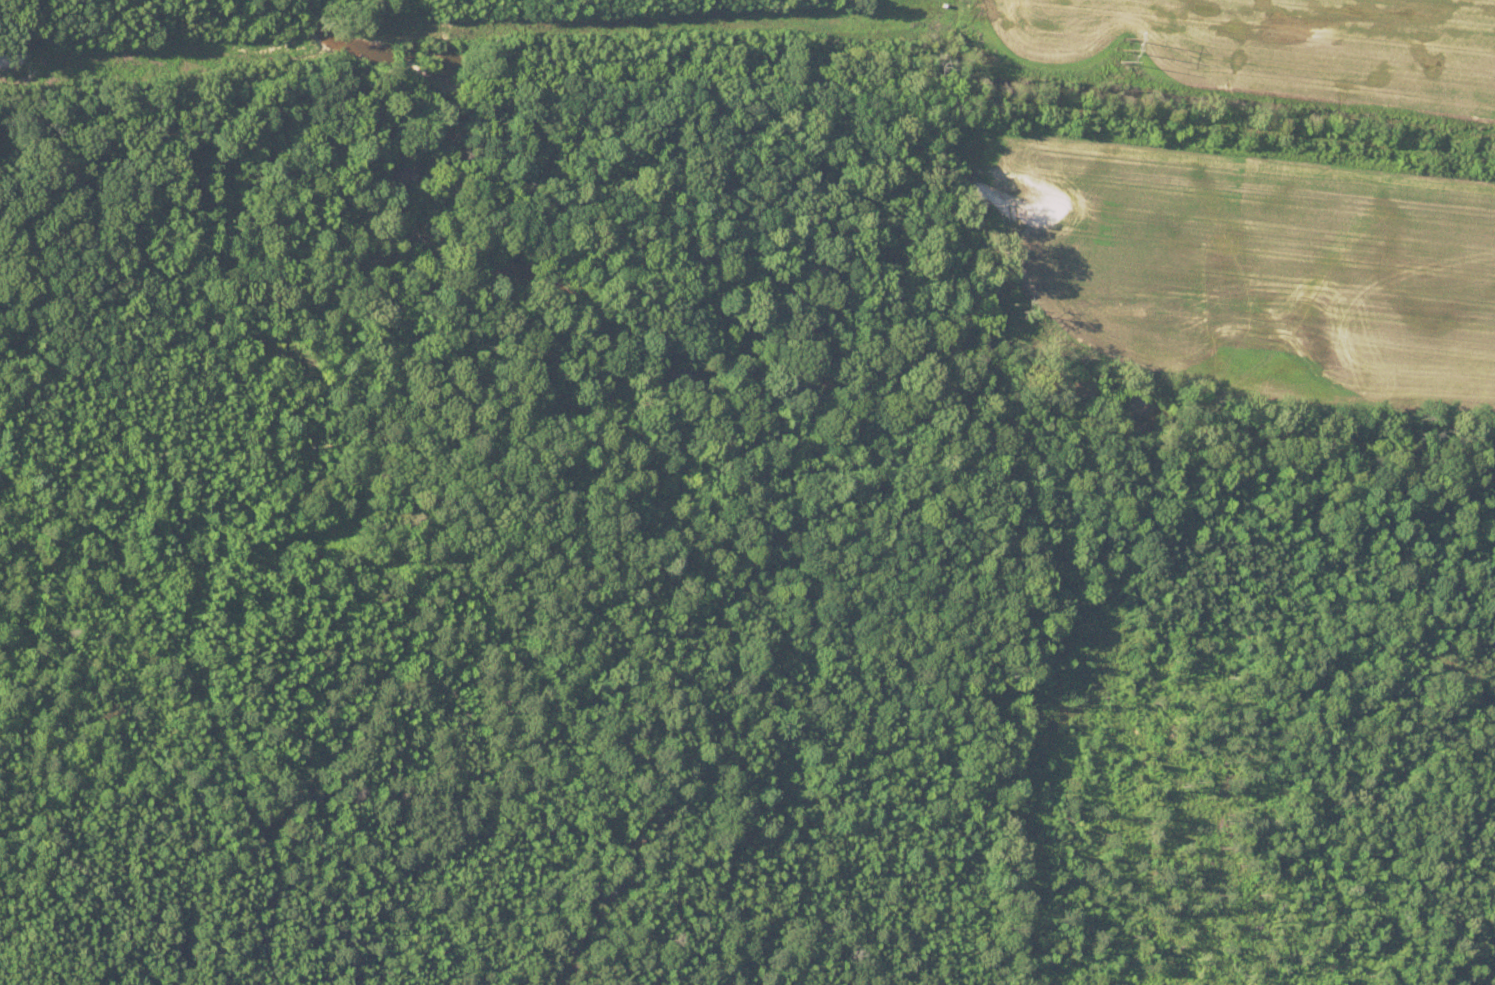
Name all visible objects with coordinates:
power tower: (1117, 46)
railway: (748, 83)

